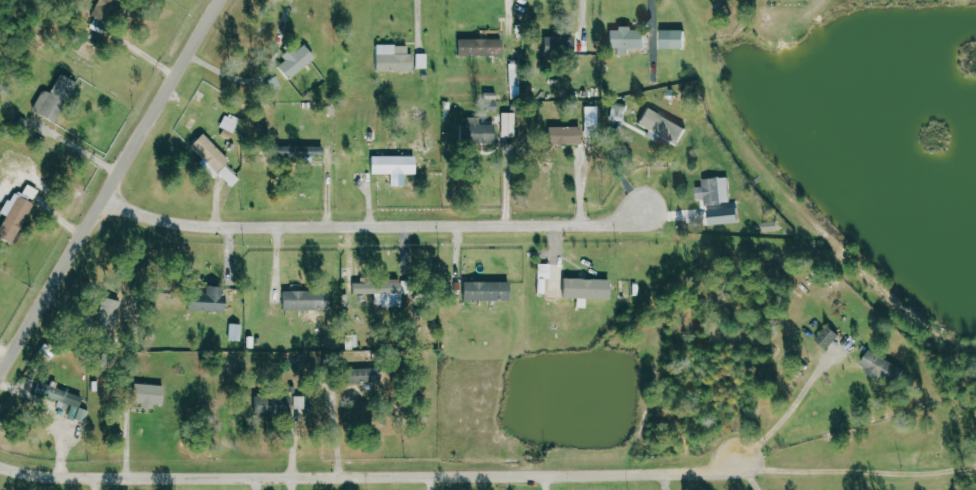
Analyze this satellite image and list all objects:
building: (625, 39)
building: (670, 39)
building: (480, 46)
building: (393, 57)
building: (295, 60)
building: (422, 60)
building: (275, 83)
building: (55, 98)
building: (231, 122)
building: (510, 124)
building: (661, 125)
building: (476, 131)
building: (564, 135)
road: (85, 149)
building: (209, 152)
building: (299, 153)
building: (392, 164)
building: (230, 176)
building: (714, 190)
road: (112, 192)
building: (16, 213)
building: (770, 226)
road: (376, 227)
building: (549, 280)
building: (585, 288)
building: (485, 291)
building: (206, 299)
building: (388, 299)
building: (305, 300)
building: (105, 313)
building: (236, 332)
building: (827, 337)
building: (352, 341)
road: (8, 350)
building: (882, 367)
building: (363, 375)
building: (147, 395)
building: (273, 405)
road: (858, 472)
road: (754, 475)
road: (371, 476)

